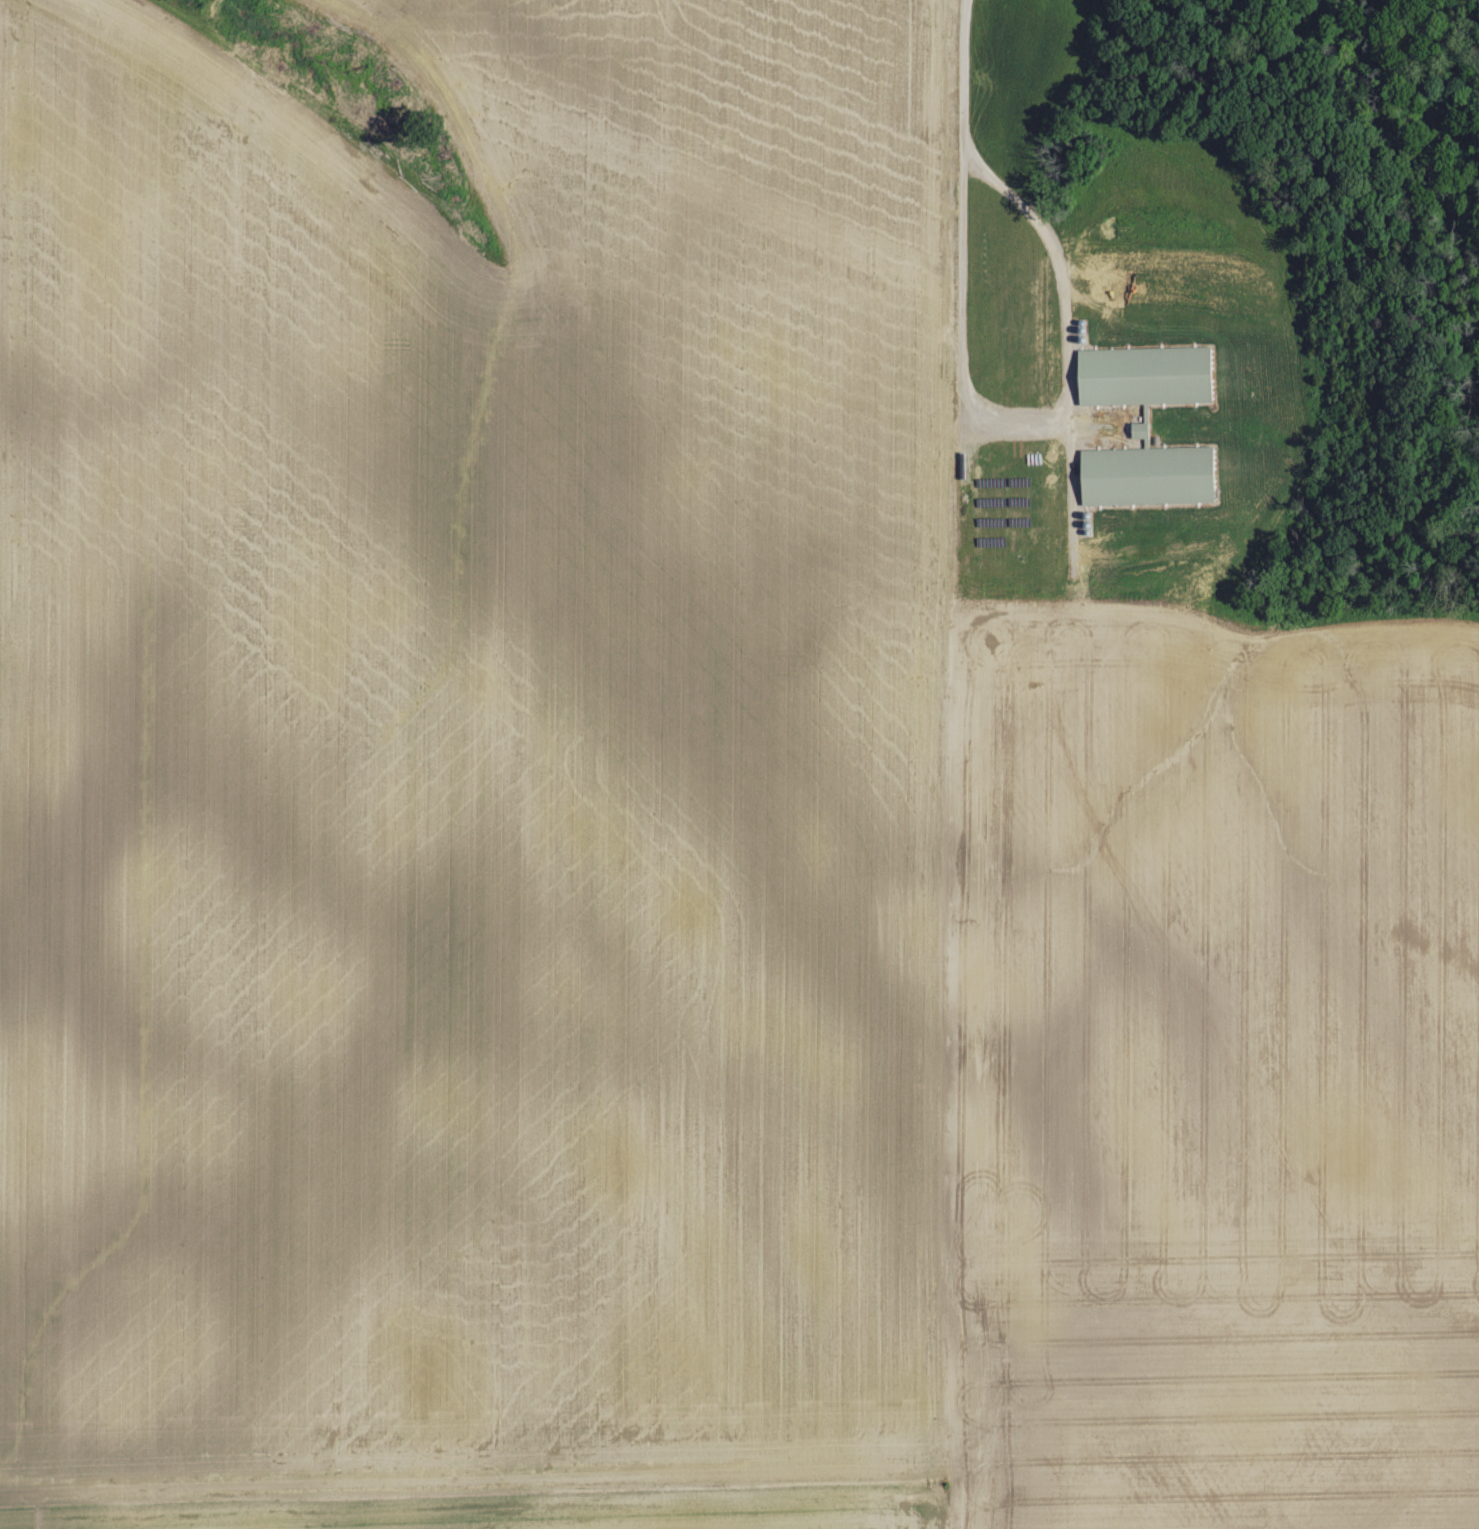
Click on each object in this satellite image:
road: (964, 72)
building: (1145, 376)
road: (1041, 426)
building: (1140, 431)
building: (1147, 477)

